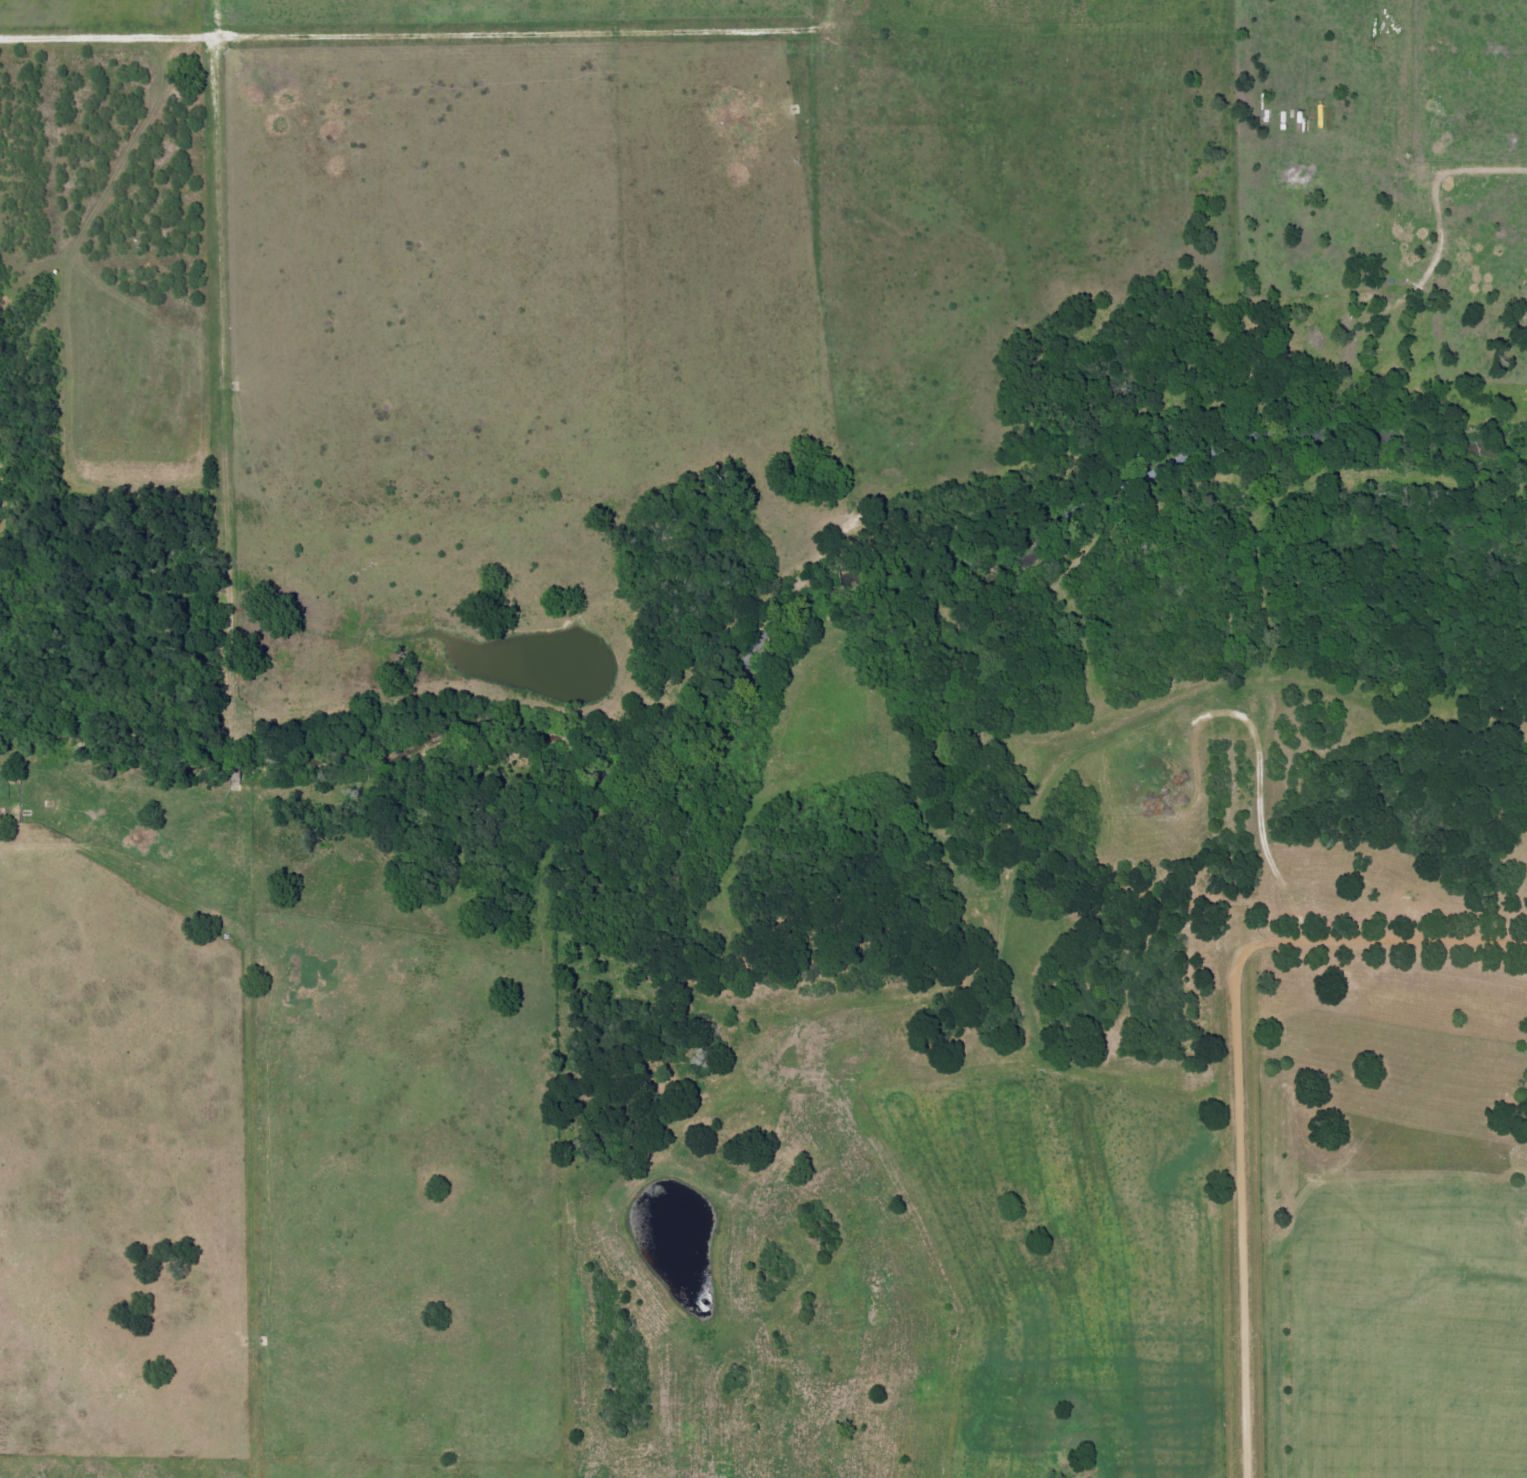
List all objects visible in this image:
road: (1456, 166)
road: (1234, 1072)

